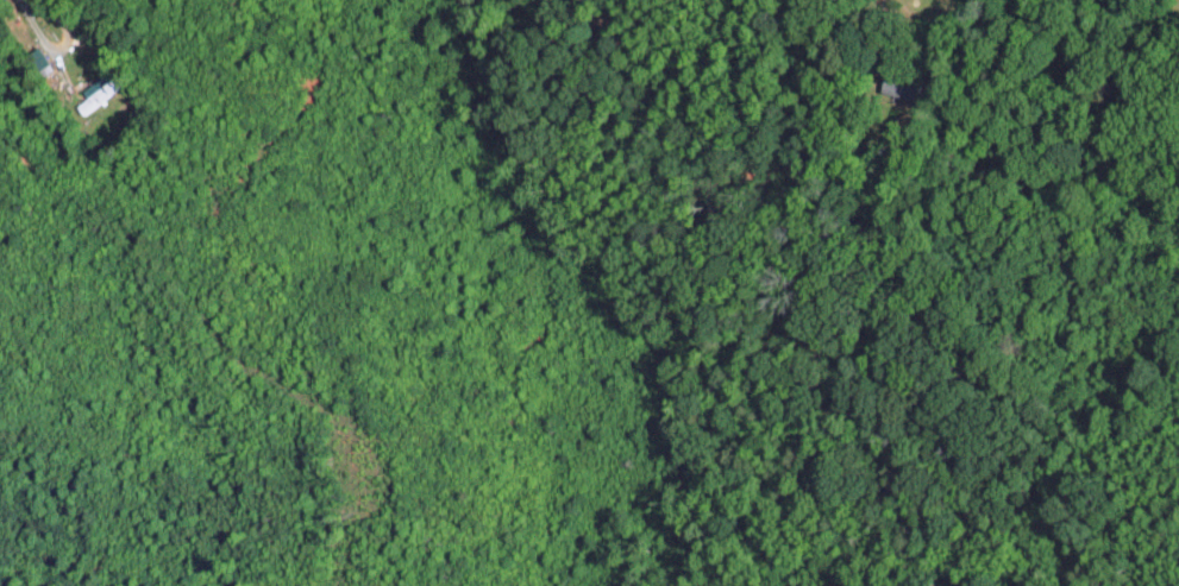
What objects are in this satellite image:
road: (26, 1)
road: (885, 24)
road: (65, 44)

